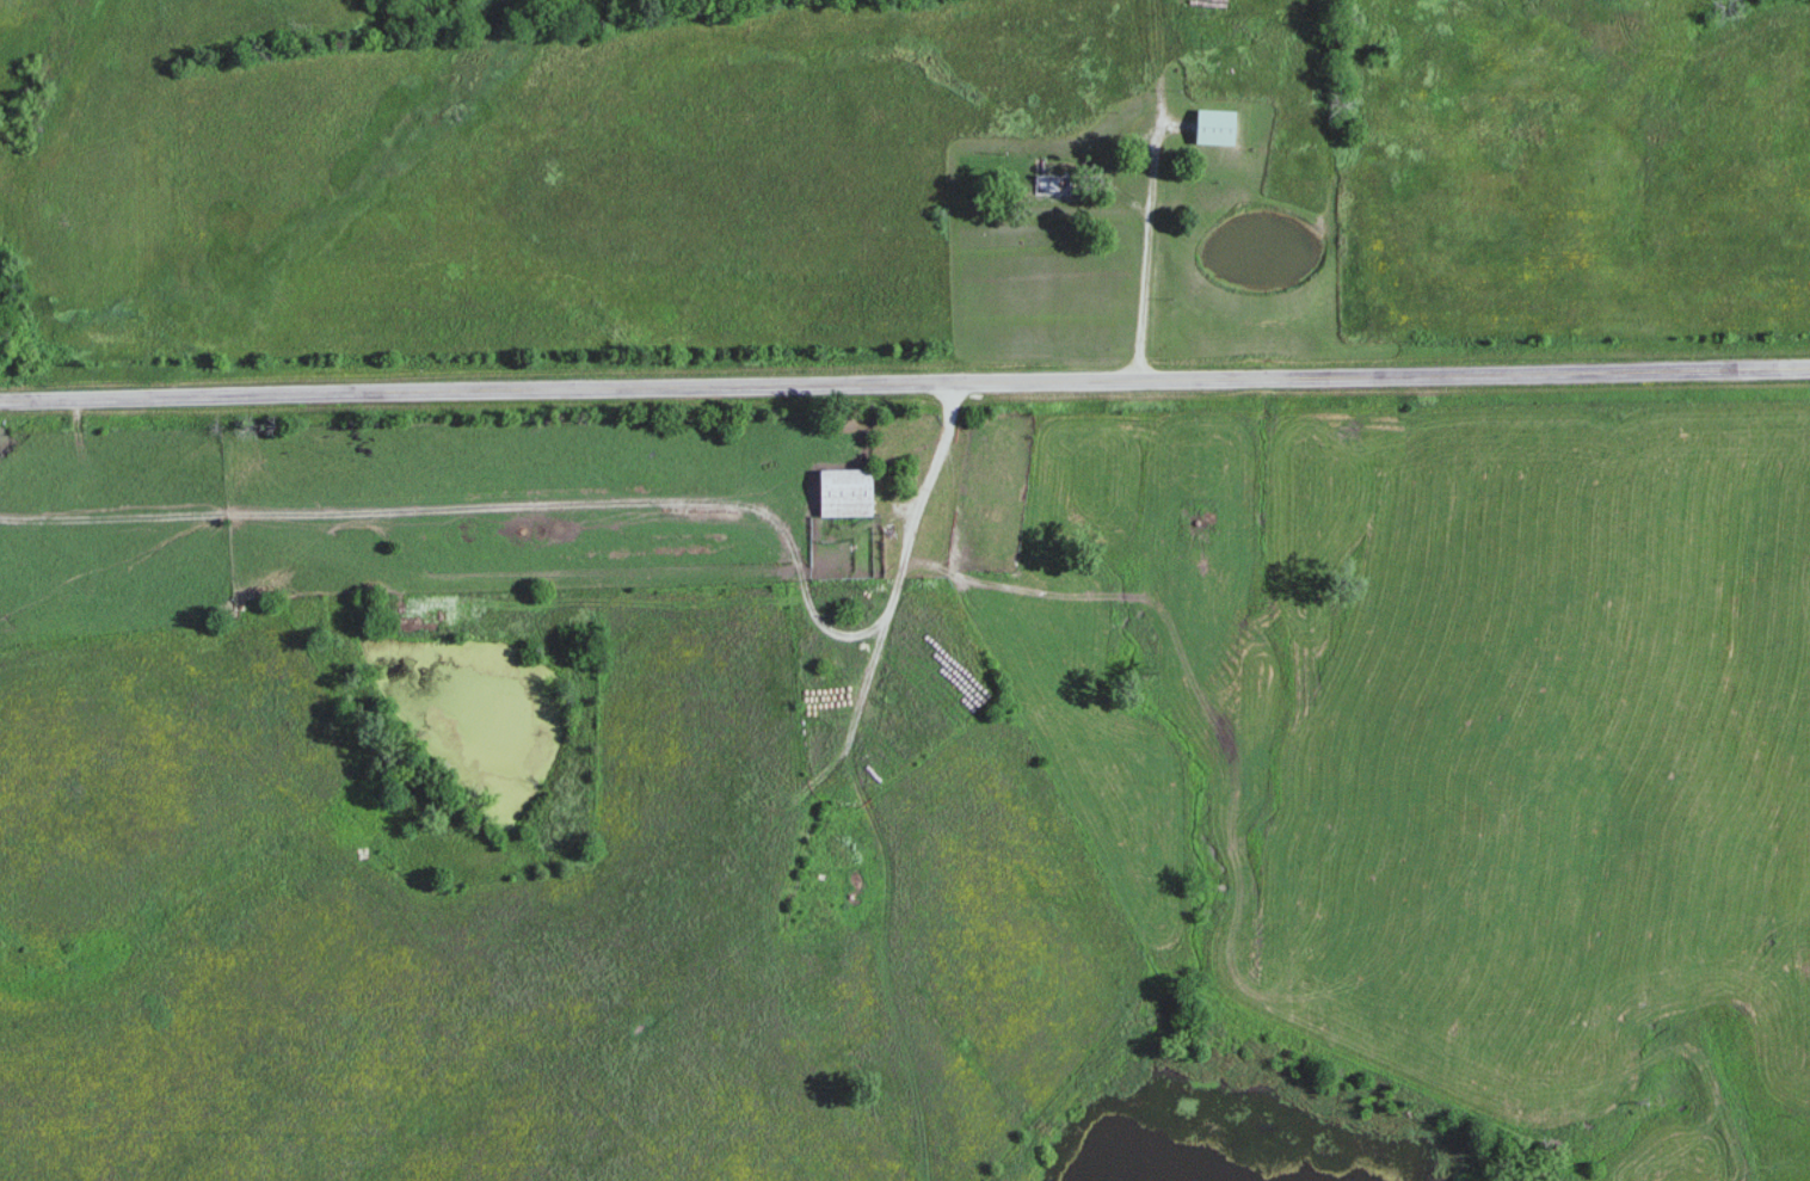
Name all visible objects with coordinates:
building: (1218, 128)
building: (1052, 183)
road: (1120, 186)
road: (1146, 289)
road: (904, 380)
building: (846, 493)

